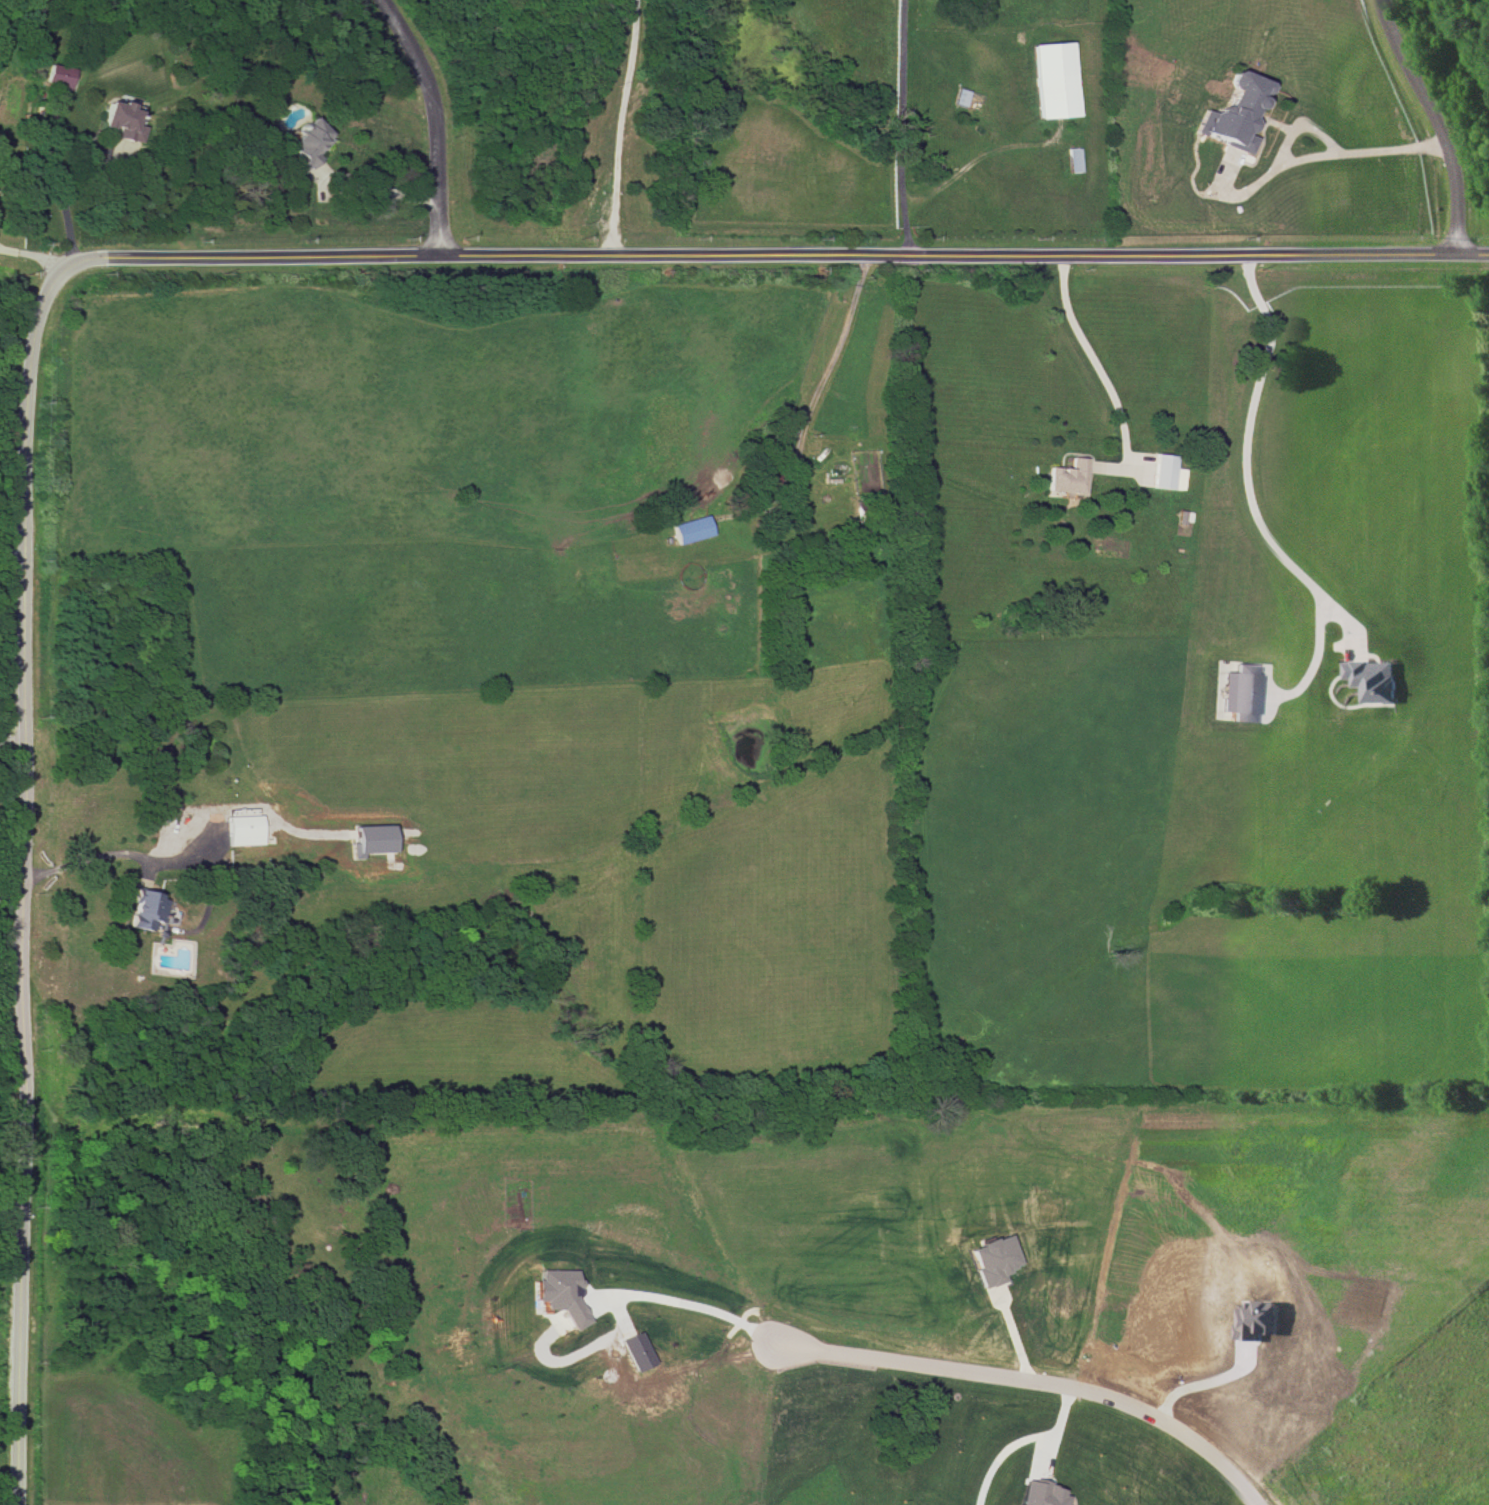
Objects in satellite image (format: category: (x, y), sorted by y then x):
building: (56, 77)
building: (1054, 80)
building: (1234, 112)
road: (436, 118)
building: (121, 121)
road: (1439, 122)
road: (618, 127)
road: (892, 128)
road: (1326, 139)
building: (306, 145)
building: (1073, 160)
road: (72, 175)
road: (378, 188)
road: (793, 255)
road: (36, 256)
road: (18, 315)
road: (1086, 361)
road: (820, 373)
road: (1243, 460)
building: (1165, 472)
building: (1065, 477)
building: (690, 529)
road: (10, 552)
building: (1372, 679)
building: (1237, 695)
building: (242, 830)
building: (369, 840)
road: (89, 858)
road: (19, 865)
building: (992, 1259)
building: (558, 1293)
road: (688, 1309)
road: (1190, 1381)
road: (1029, 1383)
road: (1057, 1425)
road: (1000, 1453)
building: (1035, 1494)

